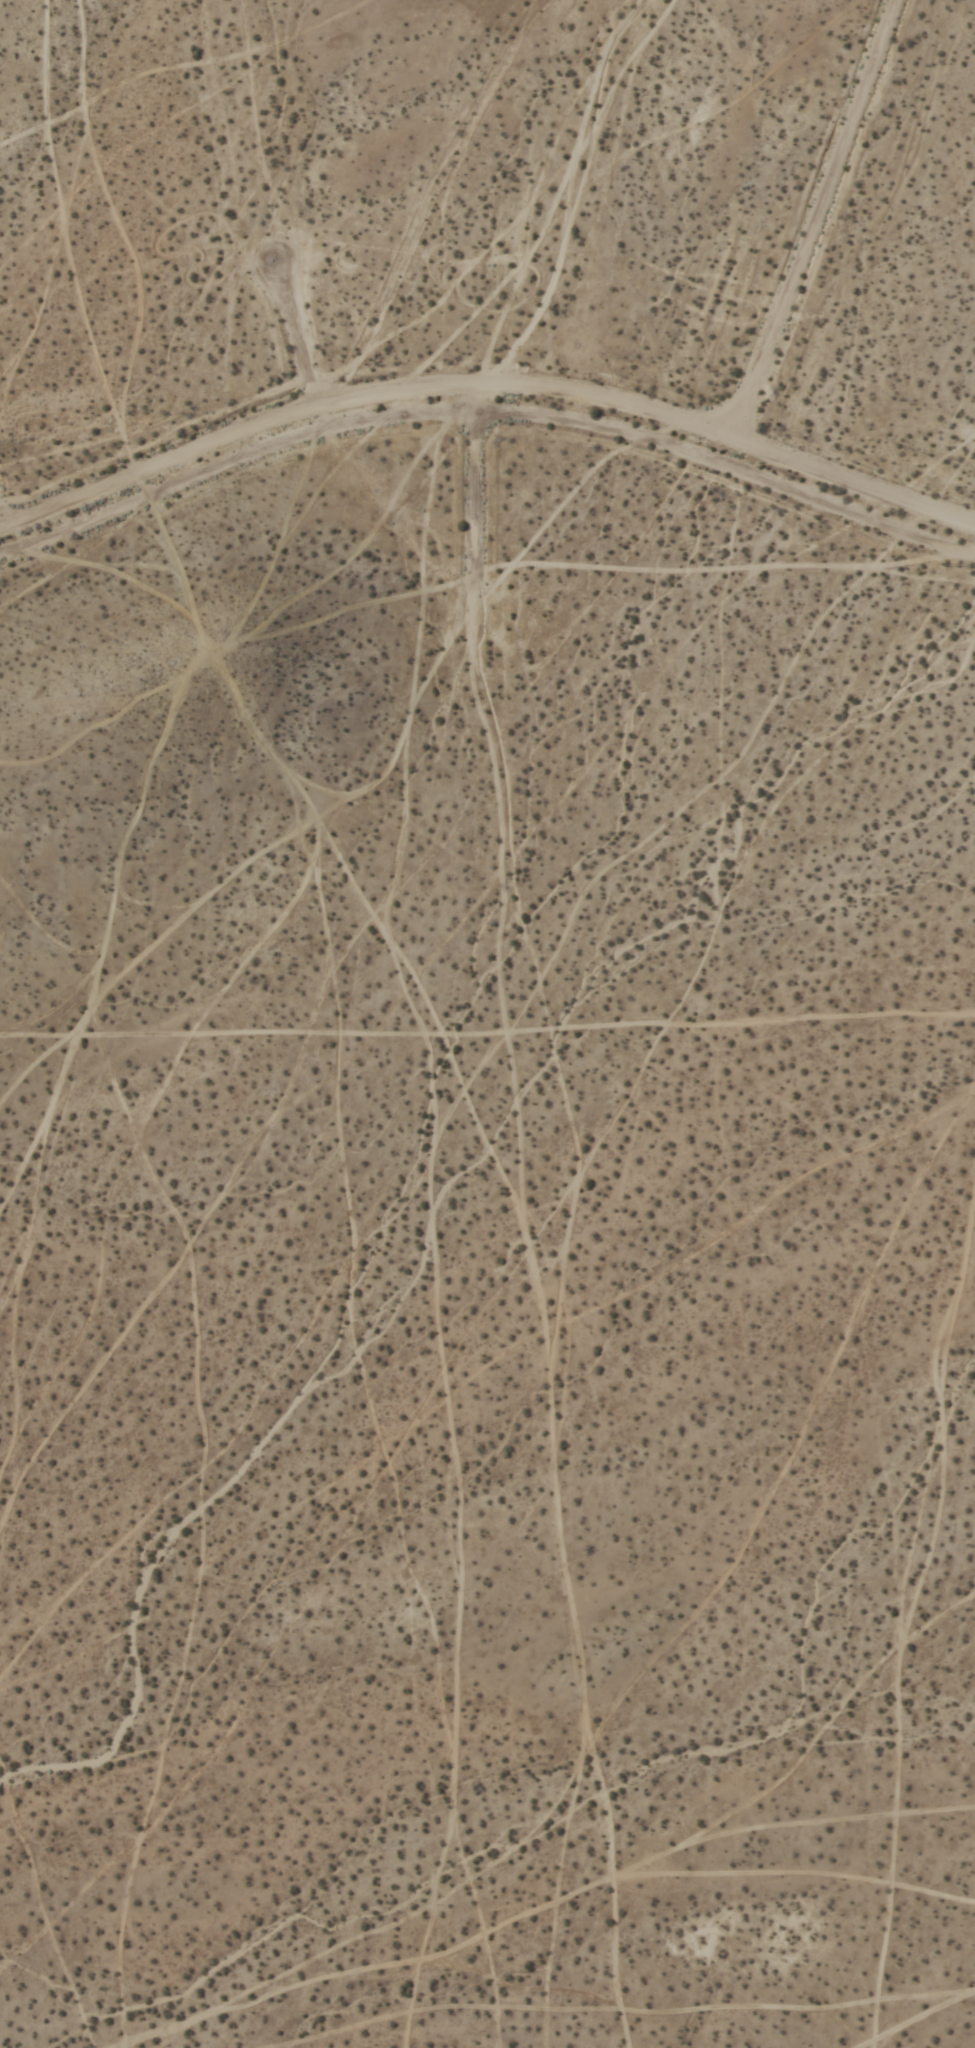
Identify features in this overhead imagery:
road: (809, 233)
road: (296, 332)
road: (487, 381)
road: (488, 415)
road: (481, 506)

